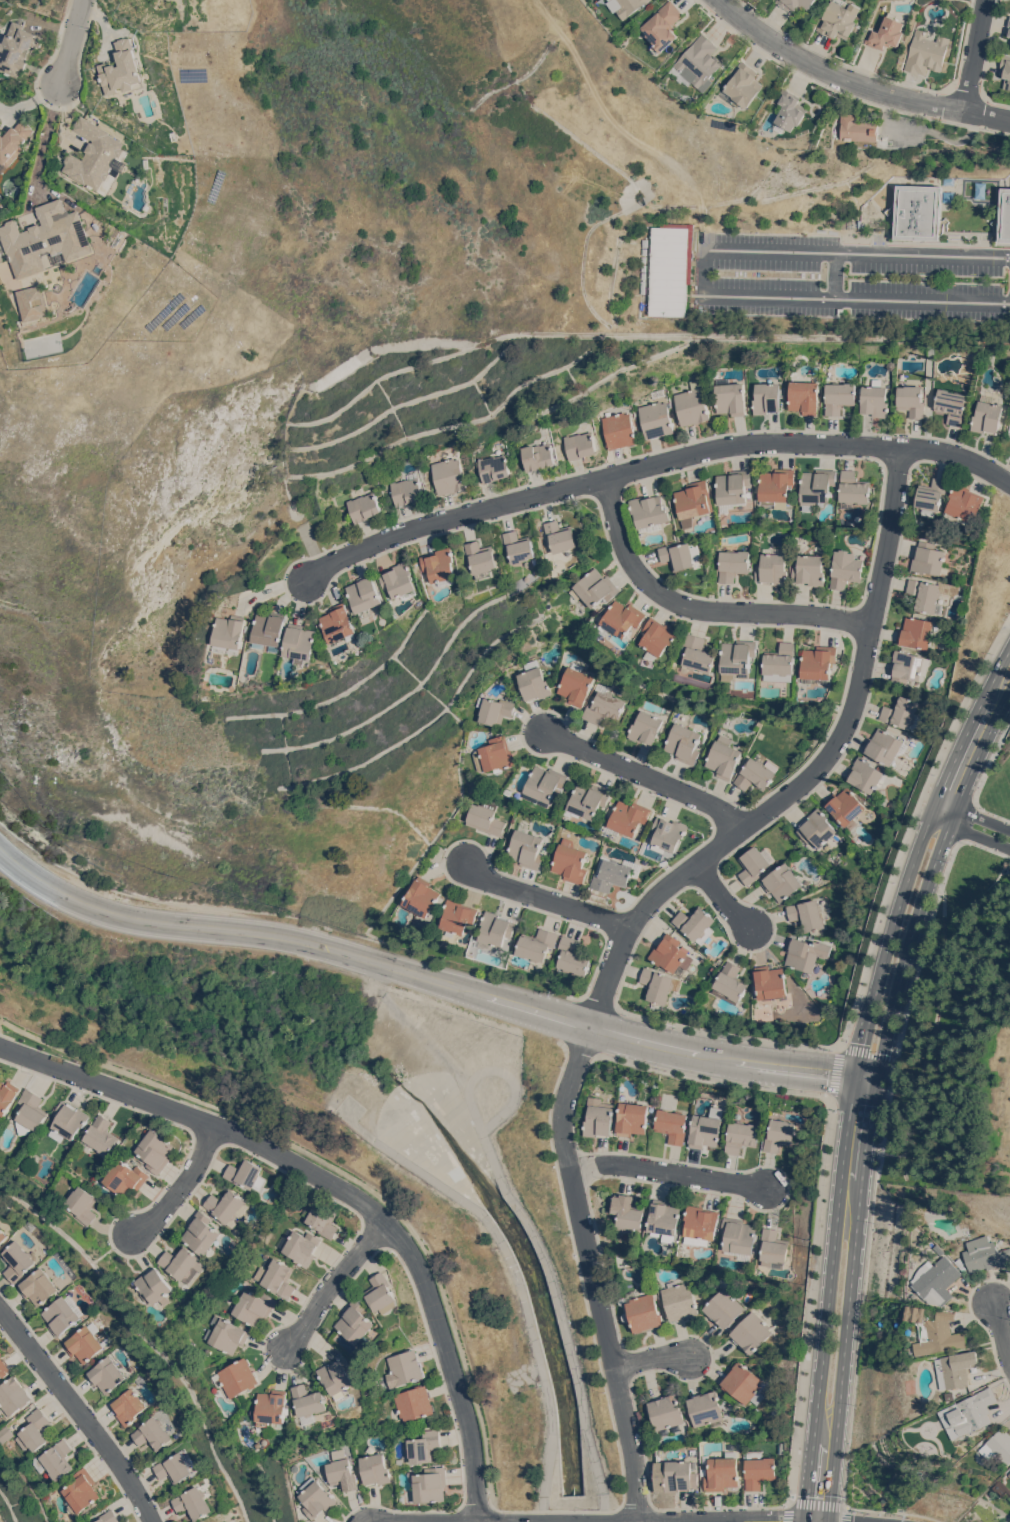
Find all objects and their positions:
building: (612, 0)
building: (795, 4)
building: (631, 6)
building: (839, 19)
building: (664, 26)
building: (1009, 29)
building: (886, 32)
road: (71, 41)
building: (18, 48)
building: (926, 52)
road: (973, 54)
building: (698, 63)
building: (122, 69)
building: (1006, 70)
road: (854, 81)
building: (743, 85)
road: (887, 101)
building: (790, 111)
road: (975, 119)
road: (947, 120)
road: (926, 127)
building: (858, 128)
road: (973, 128)
road: (46, 137)
building: (13, 142)
building: (96, 157)
building: (1, 202)
building: (916, 212)
building: (1004, 215)
building: (0, 223)
building: (46, 238)
building: (644, 242)
building: (643, 251)
building: (643, 259)
building: (643, 267)
building: (670, 268)
road: (703, 272)
road: (834, 274)
building: (643, 275)
building: (642, 286)
building: (34, 302)
road: (914, 334)
building: (889, 364)
road: (926, 391)
building: (729, 397)
building: (803, 397)
building: (839, 397)
building: (766, 398)
building: (874, 399)
building: (911, 400)
building: (692, 405)
building: (951, 405)
building: (987, 417)
building: (656, 419)
building: (618, 430)
building: (579, 445)
building: (537, 456)
road: (652, 465)
building: (493, 467)
road: (1007, 474)
building: (388, 475)
building: (449, 476)
building: (777, 487)
building: (817, 487)
building: (407, 489)
building: (733, 489)
building: (853, 490)
building: (932, 496)
building: (694, 501)
building: (964, 503)
building: (364, 506)
building: (650, 512)
building: (561, 538)
road: (308, 543)
building: (520, 546)
building: (682, 554)
building: (482, 558)
building: (929, 559)
building: (733, 564)
building: (441, 566)
building: (773, 567)
building: (845, 568)
building: (809, 570)
building: (401, 581)
building: (595, 588)
building: (366, 593)
building: (930, 593)
road: (697, 608)
building: (622, 619)
building: (340, 623)
building: (270, 630)
building: (915, 632)
building: (229, 633)
building: (658, 637)
building: (301, 642)
building: (699, 653)
building: (739, 657)
building: (781, 663)
building: (819, 663)
building: (909, 666)
road: (994, 676)
building: (533, 681)
building: (575, 686)
building: (604, 705)
building: (494, 710)
building: (901, 712)
building: (645, 727)
building: (684, 743)
building: (884, 746)
road: (981, 746)
road: (957, 752)
building: (495, 755)
road: (991, 756)
building: (724, 757)
building: (865, 774)
road: (644, 775)
building: (755, 775)
building: (545, 785)
building: (588, 800)
building: (845, 806)
road: (989, 811)
road: (973, 814)
building: (485, 817)
building: (628, 817)
road: (964, 819)
road: (911, 826)
building: (817, 828)
road: (969, 832)
building: (668, 834)
road: (983, 846)
building: (527, 847)
building: (571, 861)
building: (755, 863)
building: (614, 873)
building: (782, 882)
building: (422, 896)
road: (723, 896)
road: (543, 898)
road: (900, 900)
building: (807, 914)
building: (458, 917)
building: (696, 923)
building: (496, 929)
road: (620, 940)
road: (909, 941)
building: (538, 944)
building: (805, 953)
building: (671, 954)
building: (574, 957)
road: (421, 975)
building: (729, 983)
building: (657, 985)
building: (770, 985)
road: (1, 1019)
road: (414, 1026)
road: (718, 1032)
road: (862, 1040)
road: (843, 1048)
traffic signals: (854, 1077)
road: (705, 1078)
road: (865, 1079)
traffic signals: (876, 1081)
building: (7, 1095)
building: (30, 1112)
building: (599, 1118)
building: (632, 1118)
building: (68, 1121)
building: (672, 1125)
road: (869, 1131)
building: (704, 1132)
building: (778, 1134)
building: (101, 1135)
building: (741, 1136)
road: (846, 1136)
building: (156, 1150)
road: (877, 1168)
building: (245, 1172)
road: (668, 1172)
road: (349, 1173)
building: (126, 1178)
road: (181, 1185)
road: (343, 1188)
building: (81, 1202)
building: (226, 1205)
building: (629, 1213)
building: (665, 1219)
building: (324, 1220)
building: (701, 1225)
building: (202, 1233)
building: (3, 1235)
building: (739, 1237)
road: (536, 1241)
building: (300, 1245)
building: (774, 1248)
building: (940, 1249)
building: (985, 1254)
building: (19, 1261)
building: (184, 1263)
building: (961, 1263)
building: (277, 1277)
building: (937, 1280)
road: (333, 1281)
road: (517, 1281)
building: (40, 1286)
building: (154, 1286)
building: (382, 1293)
road: (811, 1299)
building: (680, 1301)
building: (254, 1306)
building: (723, 1308)
building: (644, 1311)
building: (64, 1314)
building: (356, 1321)
road: (1003, 1329)
building: (750, 1332)
building: (225, 1334)
building: (940, 1337)
building: (87, 1343)
road: (843, 1351)
road: (650, 1357)
road: (822, 1358)
building: (3, 1367)
building: (406, 1367)
building: (957, 1368)
building: (109, 1374)
building: (338, 1374)
building: (236, 1377)
building: (744, 1383)
building: (14, 1395)
building: (309, 1402)
building: (413, 1403)
building: (131, 1406)
building: (271, 1407)
building: (706, 1409)
building: (667, 1411)
building: (1, 1412)
road: (81, 1412)
building: (971, 1413)
building: (35, 1430)
building: (5, 1433)
building: (155, 1433)
building: (999, 1445)
building: (424, 1446)
building: (55, 1460)
building: (176, 1467)
building: (375, 1469)
building: (759, 1469)
building: (341, 1472)
building: (722, 1472)
building: (1009, 1473)
building: (680, 1476)
building: (428, 1485)
building: (81, 1491)
traffic signals: (808, 1495)
building: (315, 1497)
building: (195, 1502)
road: (816, 1504)
road: (894, 1511)
road: (496, 1515)
building: (108, 1516)
traffic signals: (778, 1520)
road: (470, 1521)
road: (544, 1521)
road: (573, 1521)
road: (706, 1521)

